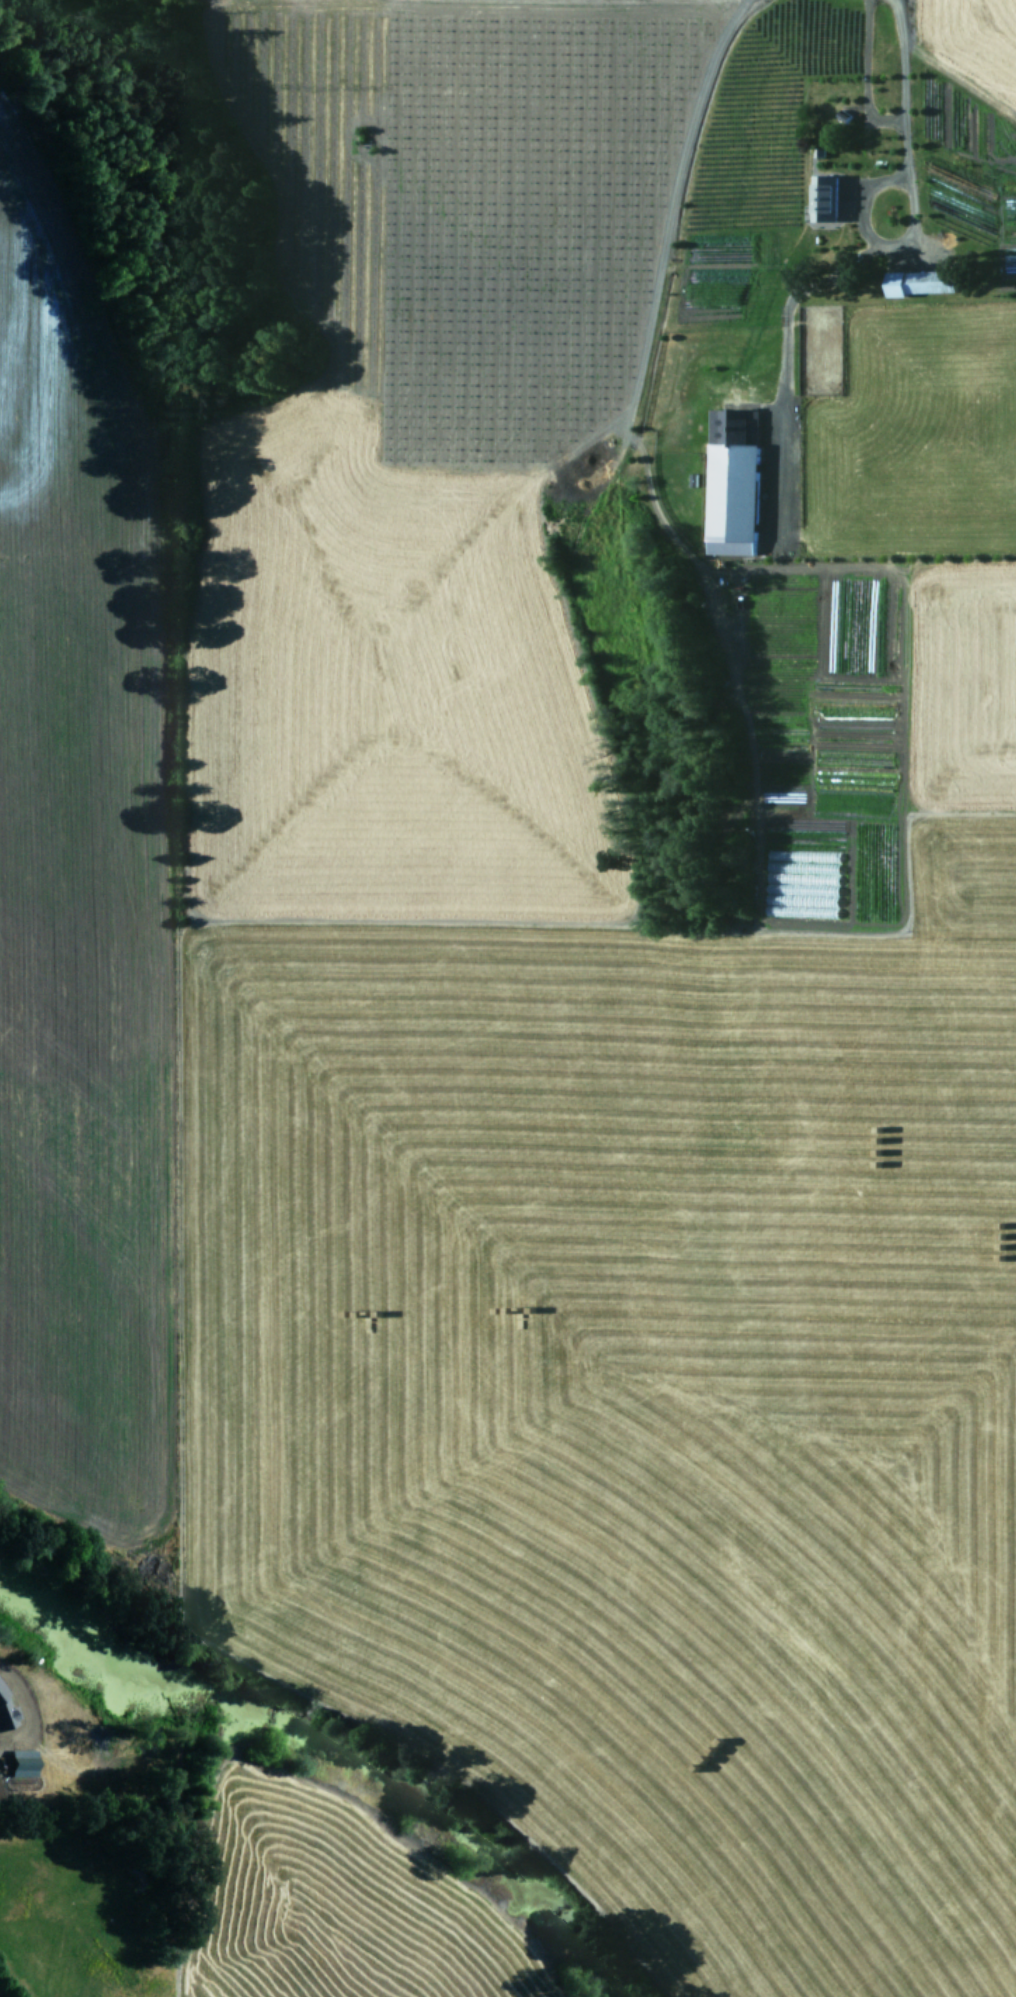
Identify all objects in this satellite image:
road: (866, 75)
road: (904, 86)
building: (822, 197)
road: (872, 238)
building: (919, 282)
building: (731, 481)
crop: (553, 948)
building: (5, 1715)
building: (19, 1763)
crop: (210, 1883)

